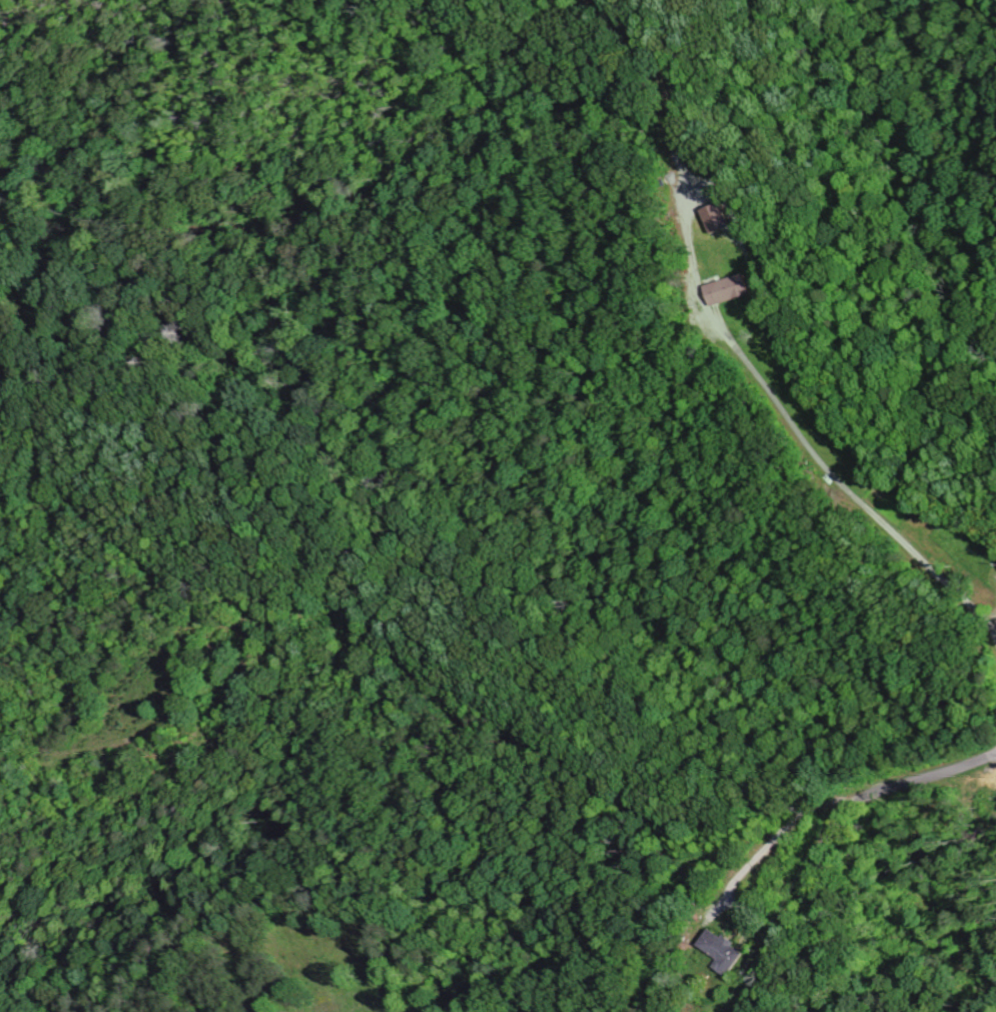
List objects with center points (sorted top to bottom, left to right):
building: (729, 219)
building: (739, 291)
road: (832, 834)
building: (734, 953)

